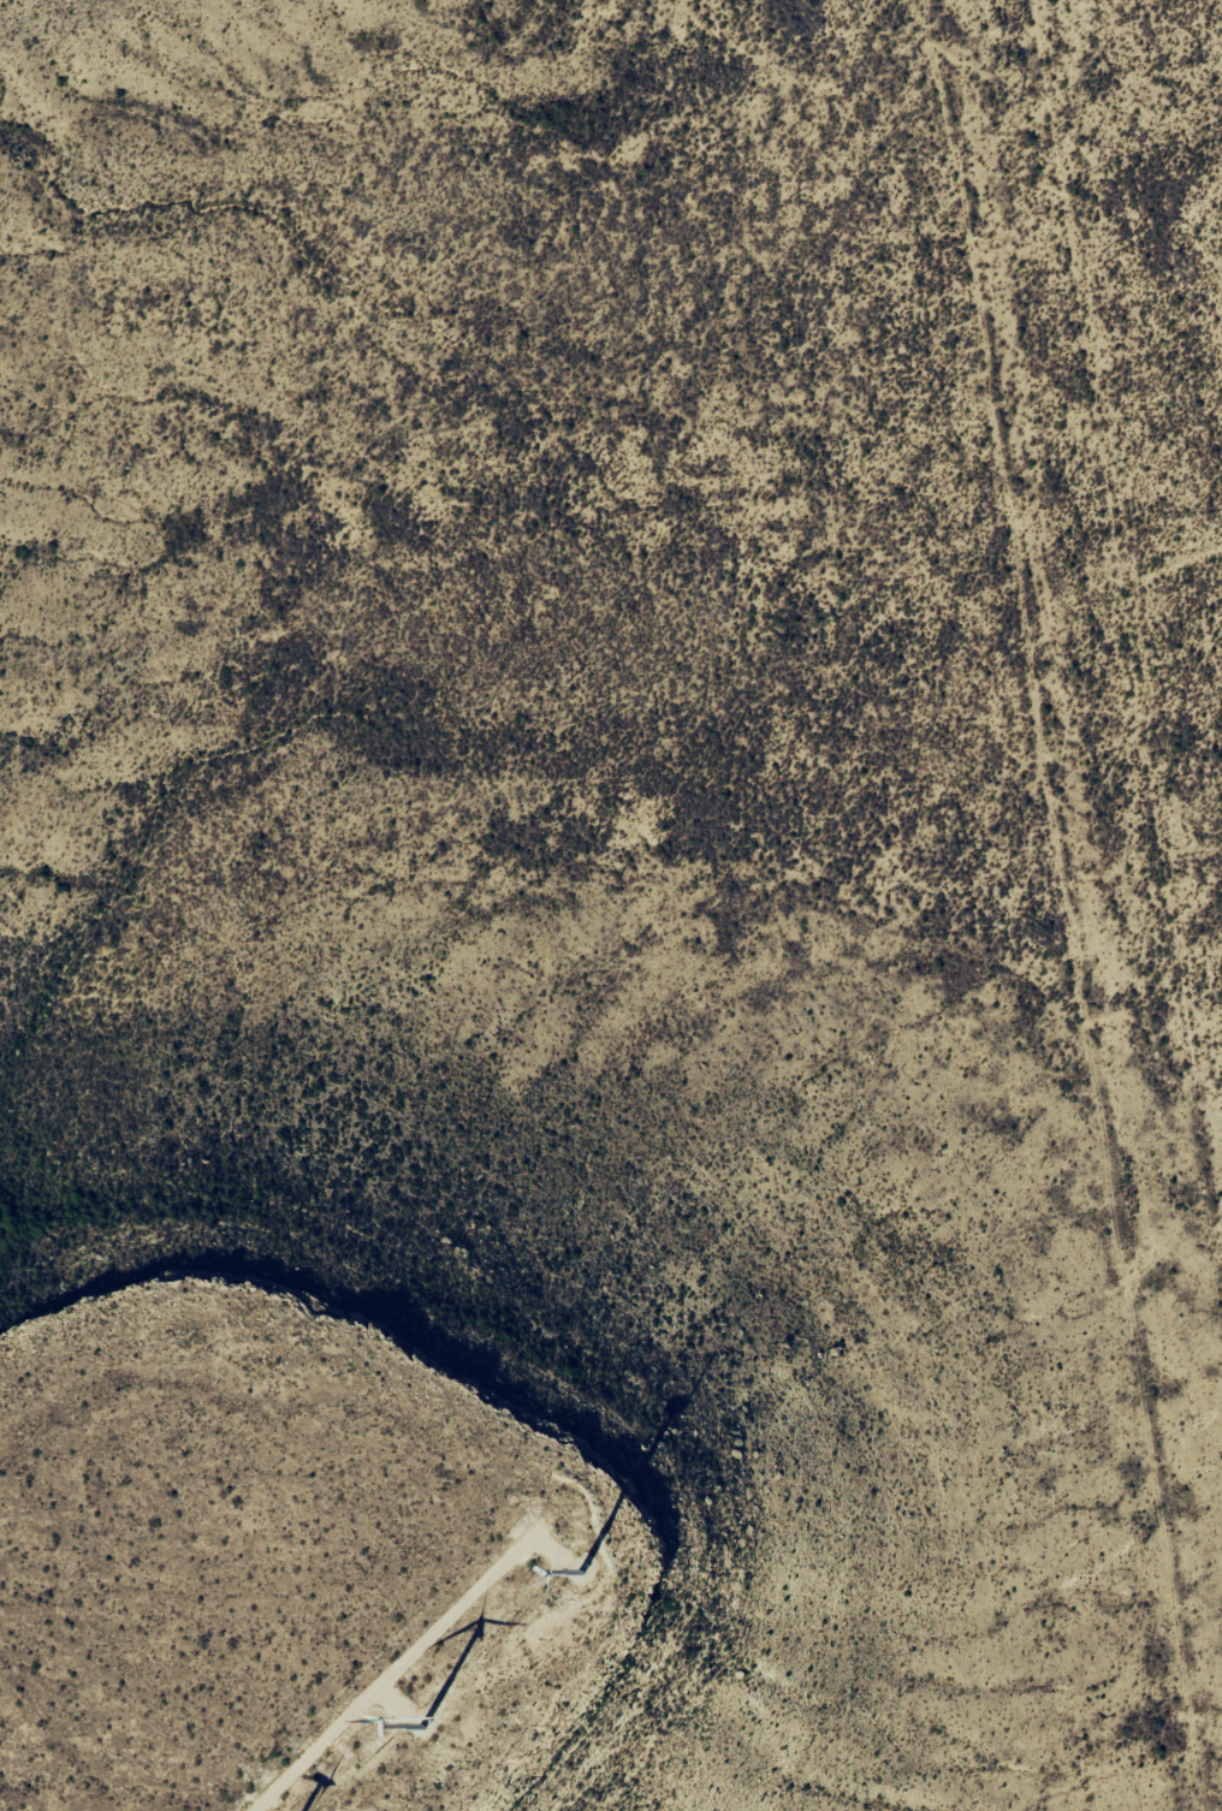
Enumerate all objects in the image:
wind turbine: (583, 1579)
wind turbine: (437, 1732)

